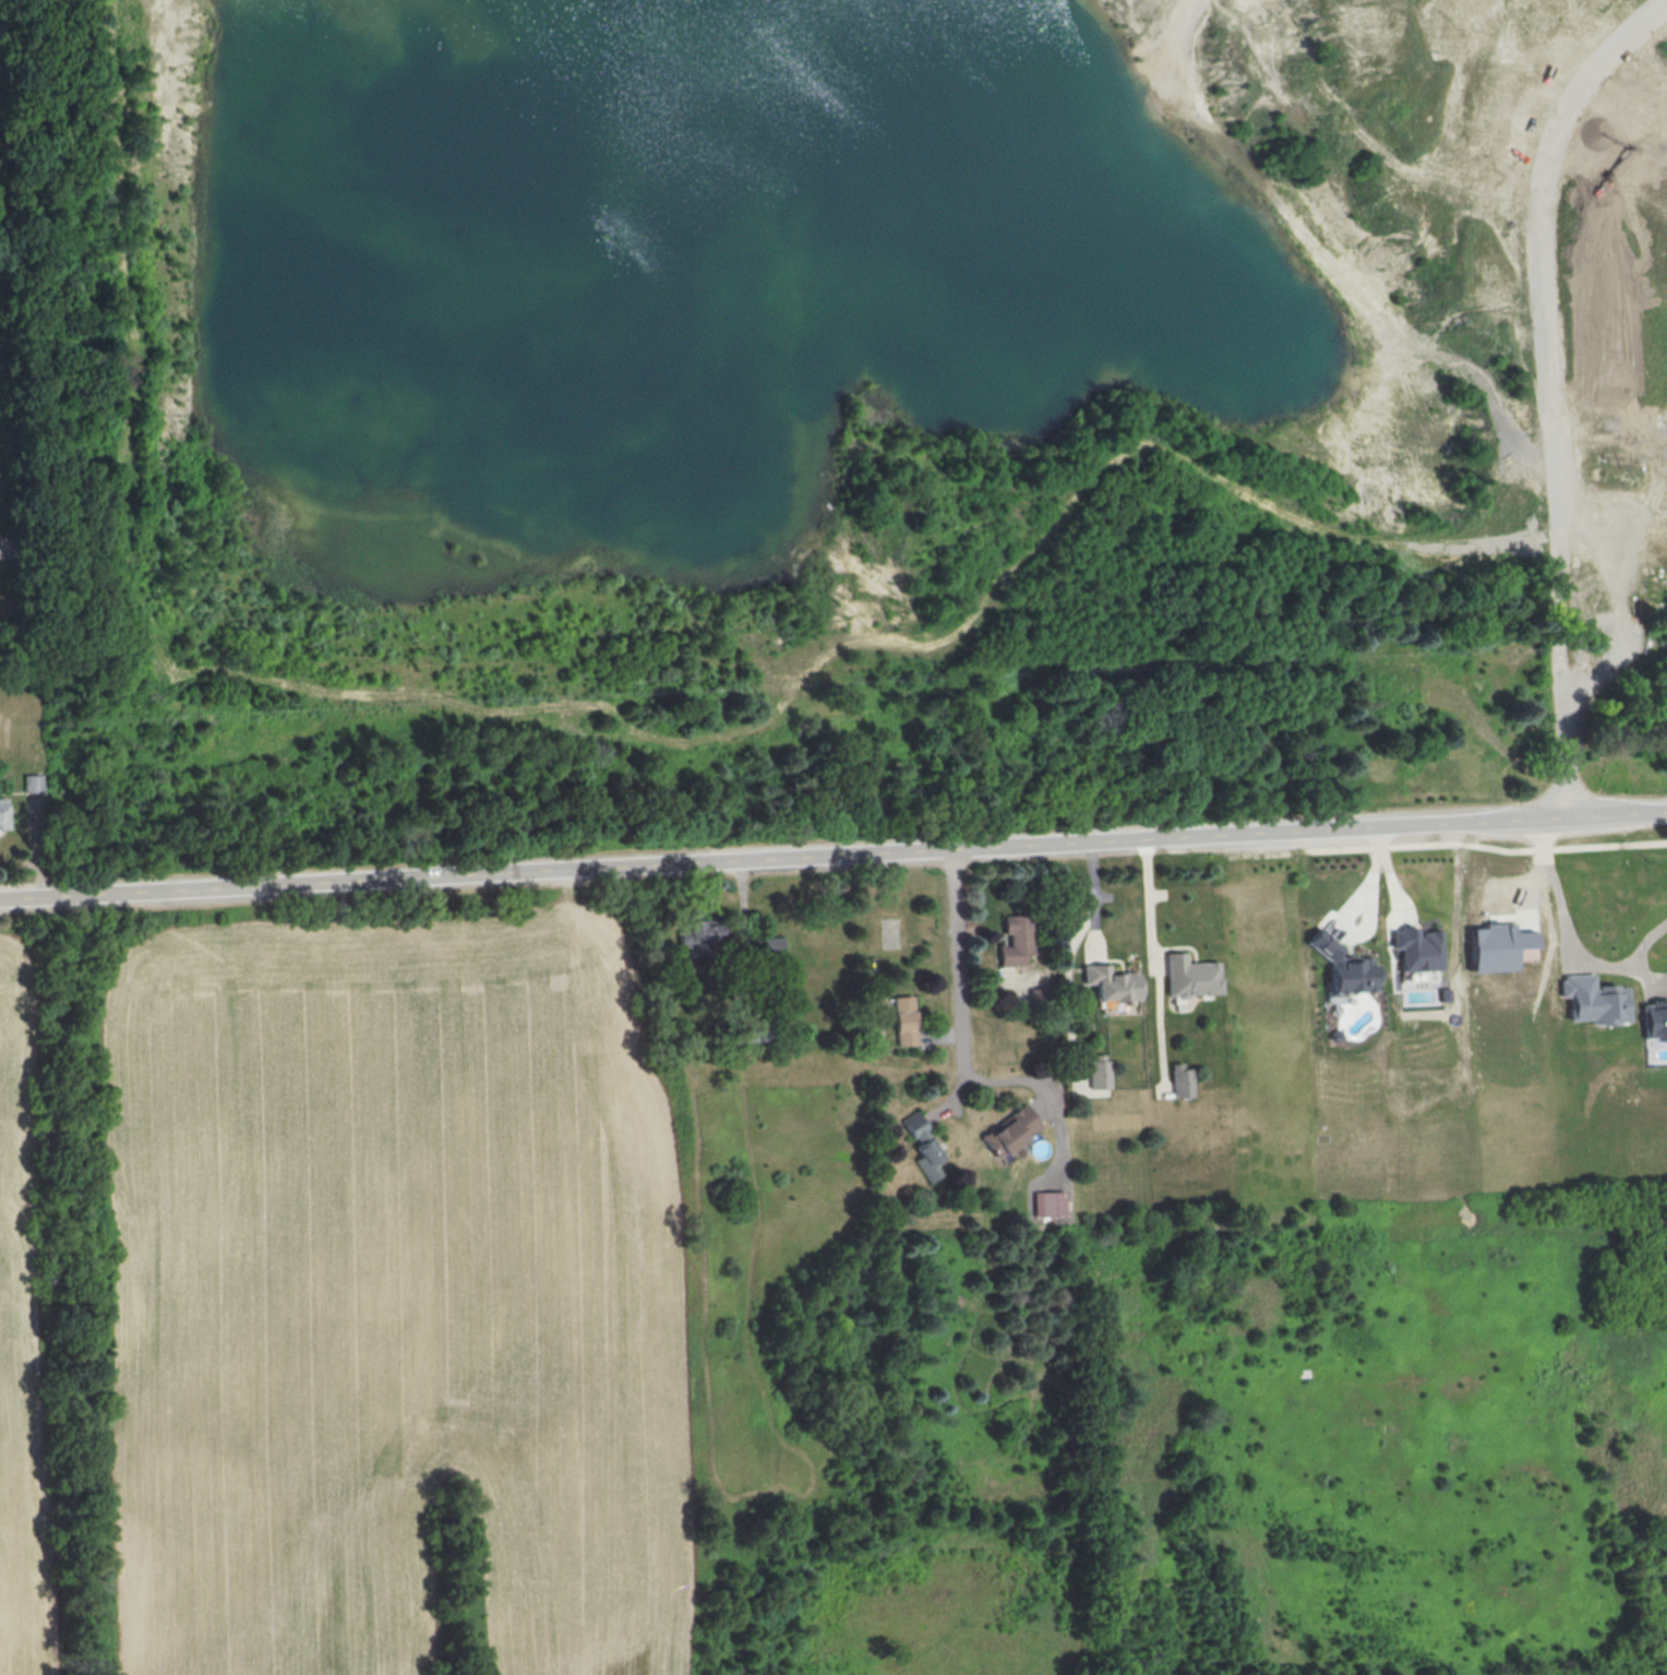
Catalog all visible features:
road: (1546, 388)
building: (32, 782)
building: (3, 813)
road: (833, 854)
road: (1441, 878)
road: (1147, 901)
road: (1368, 908)
building: (1015, 940)
road: (1569, 941)
road: (1070, 942)
building: (773, 944)
building: (1498, 946)
building: (1417, 948)
road: (958, 966)
building: (1342, 966)
building: (1190, 976)
building: (1110, 982)
building: (1446, 993)
building: (1594, 998)
building: (1654, 1018)
building: (903, 1019)
building: (1099, 1069)
building: (1182, 1079)
road: (1035, 1082)
building: (1011, 1130)
building: (923, 1145)
building: (1050, 1203)
crop: (395, 1297)
crop: (22, 1343)
park: (1273, 1384)

